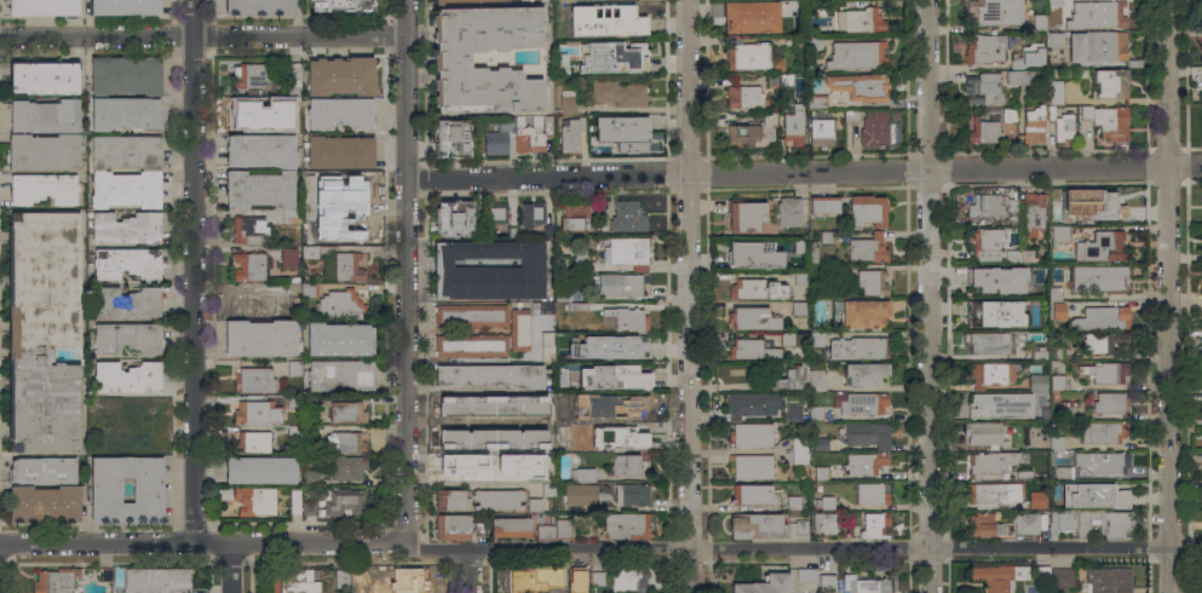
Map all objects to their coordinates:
building: (565, 0)
building: (460, 1)
building: (545, 1)
building: (1053, 1)
building: (341, 5)
building: (44, 7)
building: (126, 7)
building: (259, 7)
building: (994, 12)
building: (1098, 15)
building: (749, 16)
building: (564, 21)
building: (620, 21)
building: (861, 21)
building: (1042, 22)
road: (203, 33)
building: (1056, 39)
building: (804, 40)
building: (813, 42)
building: (1099, 47)
building: (984, 48)
building: (856, 54)
building: (752, 57)
building: (450, 59)
building: (617, 59)
building: (1018, 64)
building: (125, 75)
building: (251, 76)
building: (339, 76)
building: (42, 77)
building: (1016, 77)
building: (780, 80)
road: (1164, 81)
building: (1110, 84)
building: (861, 86)
building: (982, 88)
building: (291, 91)
building: (1056, 91)
building: (619, 92)
building: (744, 97)
building: (567, 102)
building: (817, 102)
building: (339, 113)
building: (125, 114)
building: (1007, 114)
building: (254, 115)
building: (42, 116)
building: (769, 116)
building: (850, 116)
building: (1108, 122)
building: (793, 123)
building: (1033, 125)
building: (1062, 125)
building: (620, 128)
building: (873, 128)
building: (528, 132)
building: (821, 132)
building: (983, 132)
building: (570, 134)
building: (743, 136)
building: (452, 138)
building: (494, 142)
building: (260, 150)
building: (42, 151)
building: (339, 152)
road: (803, 169)
building: (149, 173)
building: (344, 186)
building: (41, 189)
building: (259, 189)
building: (309, 200)
building: (823, 205)
building: (1057, 205)
building: (993, 206)
building: (1105, 206)
building: (867, 211)
building: (788, 212)
building: (495, 213)
building: (1033, 213)
building: (311, 214)
building: (289, 215)
building: (530, 215)
building: (574, 215)
building: (627, 215)
building: (746, 215)
building: (455, 217)
building: (126, 228)
building: (349, 228)
building: (248, 230)
building: (512, 231)
building: (1058, 235)
building: (827, 237)
building: (985, 238)
building: (798, 246)
building: (1104, 247)
building: (868, 248)
building: (310, 252)
building: (812, 252)
building: (293, 253)
building: (627, 253)
building: (753, 254)
building: (1020, 254)
building: (574, 261)
building: (126, 263)
building: (249, 266)
building: (347, 266)
building: (1022, 270)
road: (197, 271)
building: (489, 271)
road: (404, 272)
building: (799, 277)
building: (1099, 277)
building: (872, 282)
building: (983, 282)
building: (1040, 282)
building: (622, 284)
building: (757, 289)
building: (300, 290)
building: (564, 293)
road: (925, 295)
road: (686, 296)
building: (126, 303)
building: (1054, 304)
building: (257, 305)
building: (340, 305)
building: (574, 305)
building: (539, 307)
building: (798, 307)
building: (1035, 311)
building: (989, 312)
building: (861, 313)
building: (471, 315)
building: (1100, 317)
building: (626, 318)
building: (752, 318)
building: (518, 329)
building: (42, 334)
building: (580, 336)
building: (126, 338)
building: (260, 338)
building: (815, 338)
building: (338, 339)
building: (787, 339)
building: (1102, 341)
building: (988, 342)
building: (470, 345)
building: (547, 346)
building: (621, 349)
building: (750, 349)
building: (857, 349)
building: (1037, 352)
building: (1056, 352)
building: (294, 368)
building: (560, 368)
building: (864, 373)
building: (1105, 373)
building: (340, 374)
building: (990, 374)
building: (491, 375)
building: (626, 375)
building: (126, 378)
road: (1166, 378)
building: (789, 379)
building: (254, 380)
building: (816, 380)
building: (1036, 381)
building: (1057, 382)
building: (579, 390)
building: (300, 402)
building: (1110, 402)
building: (92, 403)
building: (859, 403)
building: (750, 404)
building: (1000, 404)
building: (541, 405)
building: (461, 407)
building: (626, 408)
building: (1068, 410)
building: (119, 411)
building: (257, 411)
building: (347, 411)
building: (796, 413)
building: (815, 413)
building: (1103, 432)
building: (466, 433)
building: (626, 433)
building: (983, 433)
building: (750, 434)
building: (867, 434)
building: (304, 436)
building: (252, 442)
building: (346, 442)
building: (132, 443)
building: (819, 443)
building: (1057, 443)
building: (502, 444)
building: (592, 445)
building: (799, 450)
building: (306, 459)
building: (993, 462)
building: (865, 464)
building: (1089, 464)
building: (459, 465)
building: (629, 465)
building: (750, 466)
building: (347, 467)
building: (41, 470)
building: (260, 470)
building: (821, 472)
building: (501, 473)
building: (582, 474)
building: (1023, 474)
building: (309, 477)
building: (1016, 488)
building: (548, 489)
building: (105, 493)
building: (872, 493)
building: (985, 493)
building: (586, 494)
building: (634, 495)
building: (752, 495)
building: (1093, 495)
building: (249, 499)
building: (498, 499)
building: (449, 500)
building: (1037, 500)
building: (294, 501)
building: (343, 501)
building: (793, 502)
building: (824, 502)
building: (44, 503)
building: (534, 505)
building: (309, 508)
building: (1062, 522)
building: (1029, 523)
building: (1105, 523)
building: (823, 524)
building: (626, 525)
building: (757, 525)
building: (987, 525)
building: (511, 526)
building: (875, 526)
building: (456, 528)
building: (796, 528)
building: (554, 529)
road: (202, 543)
road: (803, 546)
road: (230, 568)
road: (468, 570)
building: (1041, 572)
building: (104, 575)
building: (806, 575)
building: (360, 576)
building: (341, 577)
building: (997, 577)
building: (597, 578)
building: (54, 580)
building: (1060, 580)
building: (1108, 580)
building: (156, 581)
building: (410, 581)
building: (527, 581)
building: (629, 581)
building: (294, 582)
building: (577, 582)
building: (853, 583)
building: (763, 585)
building: (805, 592)

